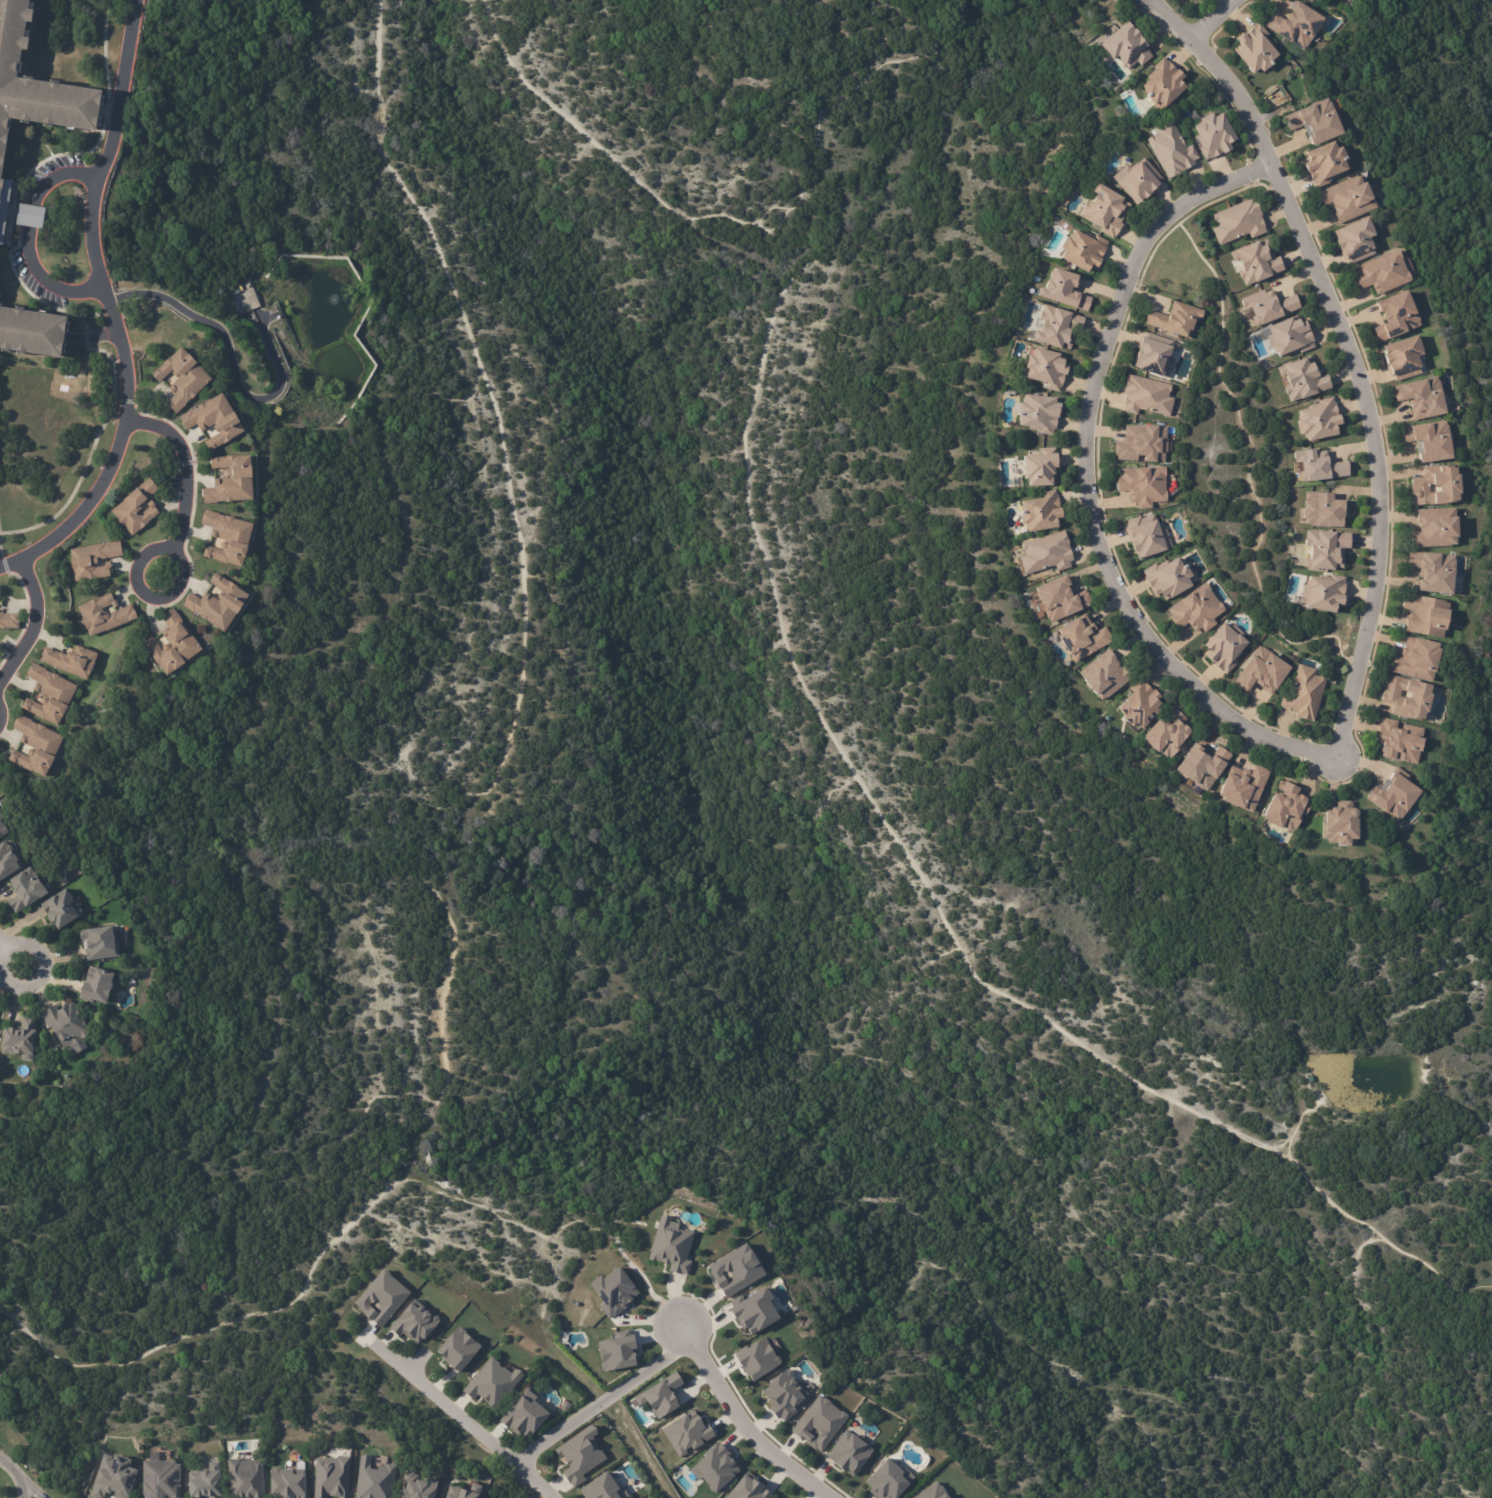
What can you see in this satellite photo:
road: (1209, 19)
building: (1294, 23)
building: (1124, 45)
building: (1253, 48)
road: (1228, 74)
building: (1160, 82)
building: (1277, 97)
building: (27, 114)
building: (1315, 123)
building: (1211, 134)
building: (1170, 148)
building: (1325, 164)
road: (59, 172)
building: (1136, 179)
building: (1347, 200)
building: (1104, 212)
road: (30, 213)
building: (1238, 222)
building: (1355, 241)
building: (1082, 251)
building: (1256, 262)
building: (1382, 274)
road: (44, 280)
building: (232, 288)
building: (1063, 289)
building: (1268, 307)
road: (109, 309)
building: (1396, 318)
building: (1176, 320)
building: (29, 324)
building: (1057, 328)
building: (1290, 338)
building: (1154, 356)
building: (1402, 359)
road: (231, 360)
building: (1048, 369)
building: (185, 379)
building: (1302, 381)
building: (1146, 397)
building: (1422, 399)
building: (1039, 414)
building: (220, 422)
building: (1319, 422)
building: (1430, 441)
building: (1142, 445)
building: (1319, 467)
building: (1040, 468)
building: (236, 482)
building: (1143, 486)
building: (1437, 486)
building: (138, 509)
building: (1323, 511)
building: (1042, 513)
building: (1435, 530)
building: (1146, 538)
building: (234, 540)
road: (175, 542)
building: (1326, 552)
building: (1047, 553)
building: (94, 561)
building: (1433, 574)
building: (1167, 579)
building: (1324, 594)
building: (1059, 600)
road: (1128, 602)
building: (225, 605)
building: (1196, 612)
building: (106, 615)
building: (1425, 616)
building: (10, 621)
road: (33, 623)
building: (1081, 640)
building: (191, 643)
building: (1, 647)
building: (1224, 651)
building: (1413, 660)
building: (74, 662)
building: (1262, 674)
building: (1105, 678)
building: (1303, 695)
building: (52, 696)
building: (1407, 698)
building: (1140, 708)
building: (1168, 737)
building: (1400, 742)
building: (39, 749)
building: (1203, 767)
building: (1243, 791)
building: (1395, 799)
building: (1286, 808)
building: (3, 826)
building: (1341, 827)
building: (11, 862)
building: (30, 890)
building: (64, 910)
building: (102, 943)
road: (1, 947)
road: (41, 964)
building: (100, 984)
building: (67, 1025)
building: (24, 1040)
building: (1309, 1079)
building: (670, 1245)
building: (734, 1270)
building: (612, 1289)
building: (381, 1296)
building: (753, 1310)
building: (414, 1321)
road: (225, 1323)
road: (688, 1336)
building: (457, 1348)
building: (616, 1351)
building: (756, 1359)
building: (491, 1382)
building: (783, 1394)
building: (660, 1395)
building: (564, 1404)
road: (459, 1415)
building: (524, 1415)
building: (818, 1423)
building: (686, 1433)
building: (848, 1452)
building: (579, 1455)
building: (715, 1467)
road: (17, 1475)
building: (112, 1477)
building: (331, 1477)
building: (161, 1478)
building: (245, 1478)
building: (374, 1480)
building: (887, 1480)
building: (205, 1481)
building: (285, 1483)
building: (417, 1486)
road: (30, 1488)
building: (602, 1488)
building: (748, 1488)
building: (461, 1491)
building: (930, 1491)
building: (775, 1497)

